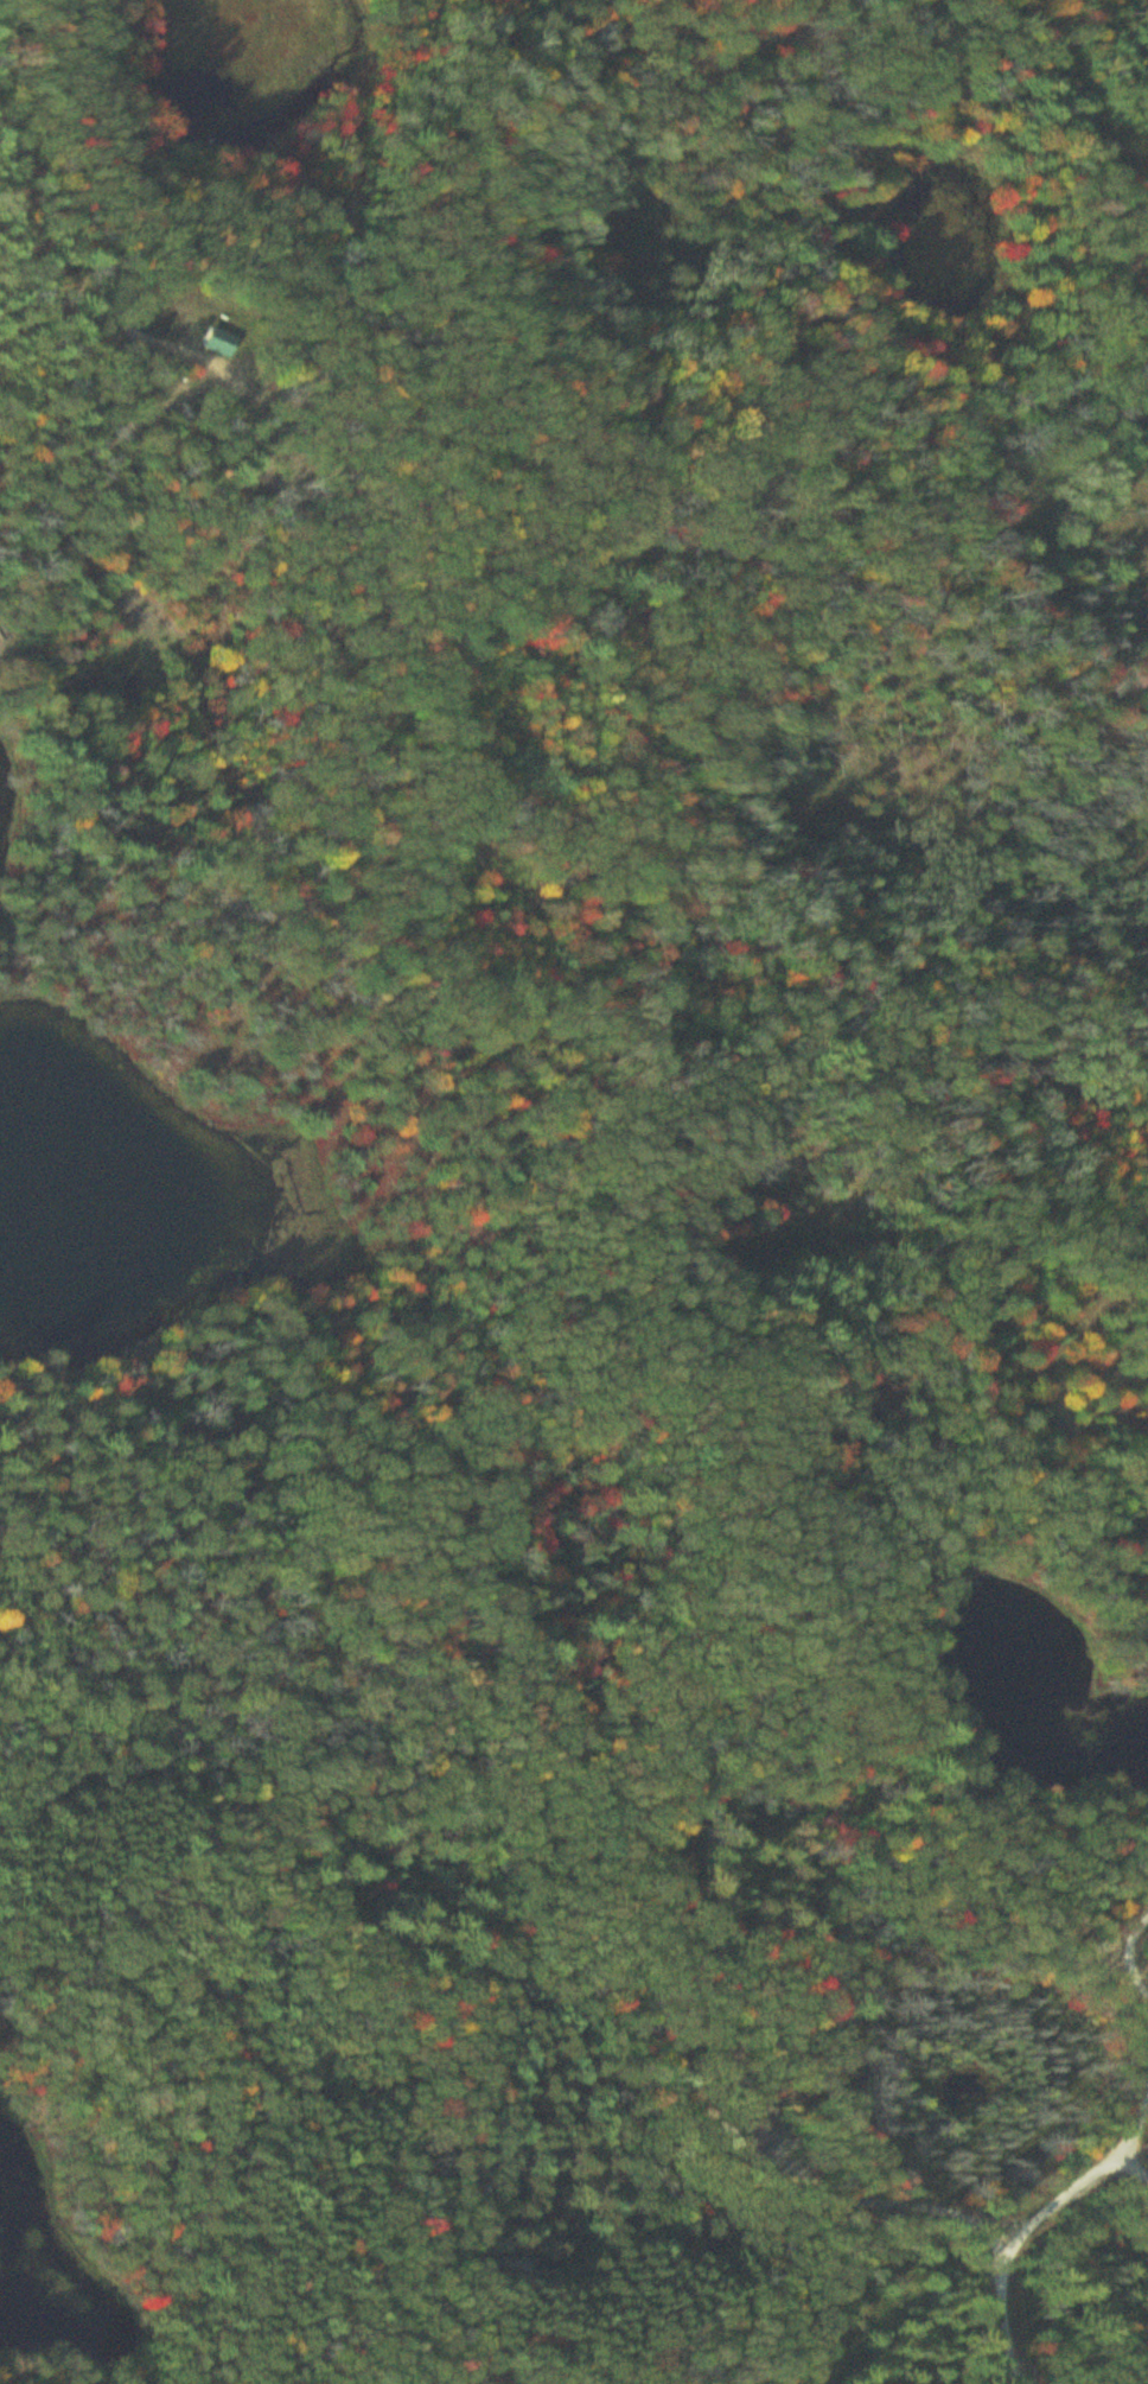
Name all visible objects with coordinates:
road: (20, 244)
building: (222, 345)

